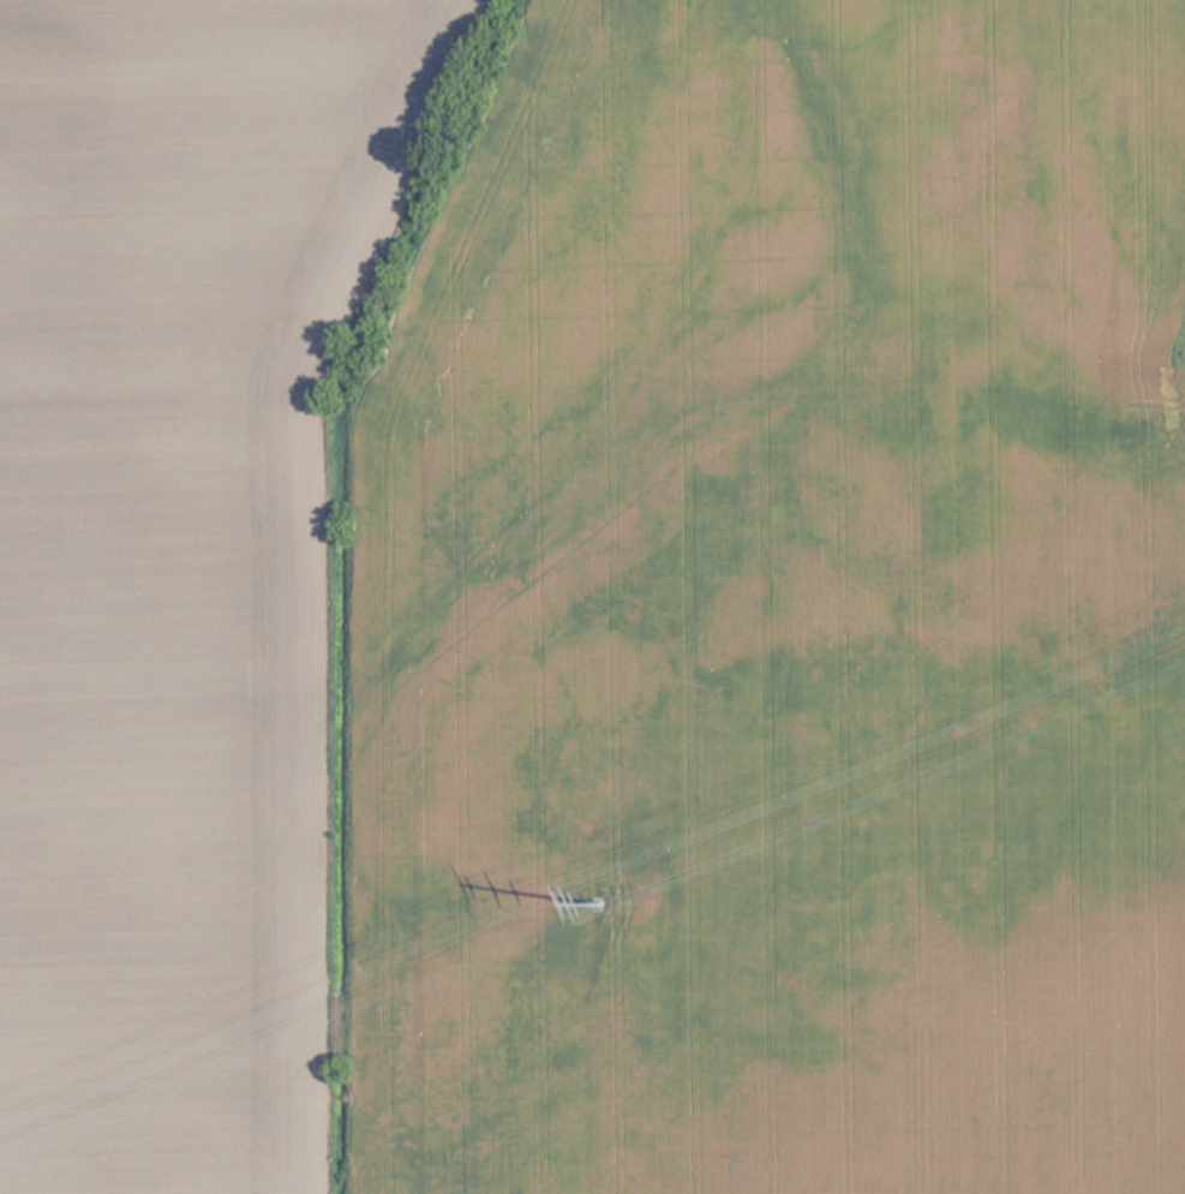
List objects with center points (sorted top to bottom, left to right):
power tower: (615, 907)

